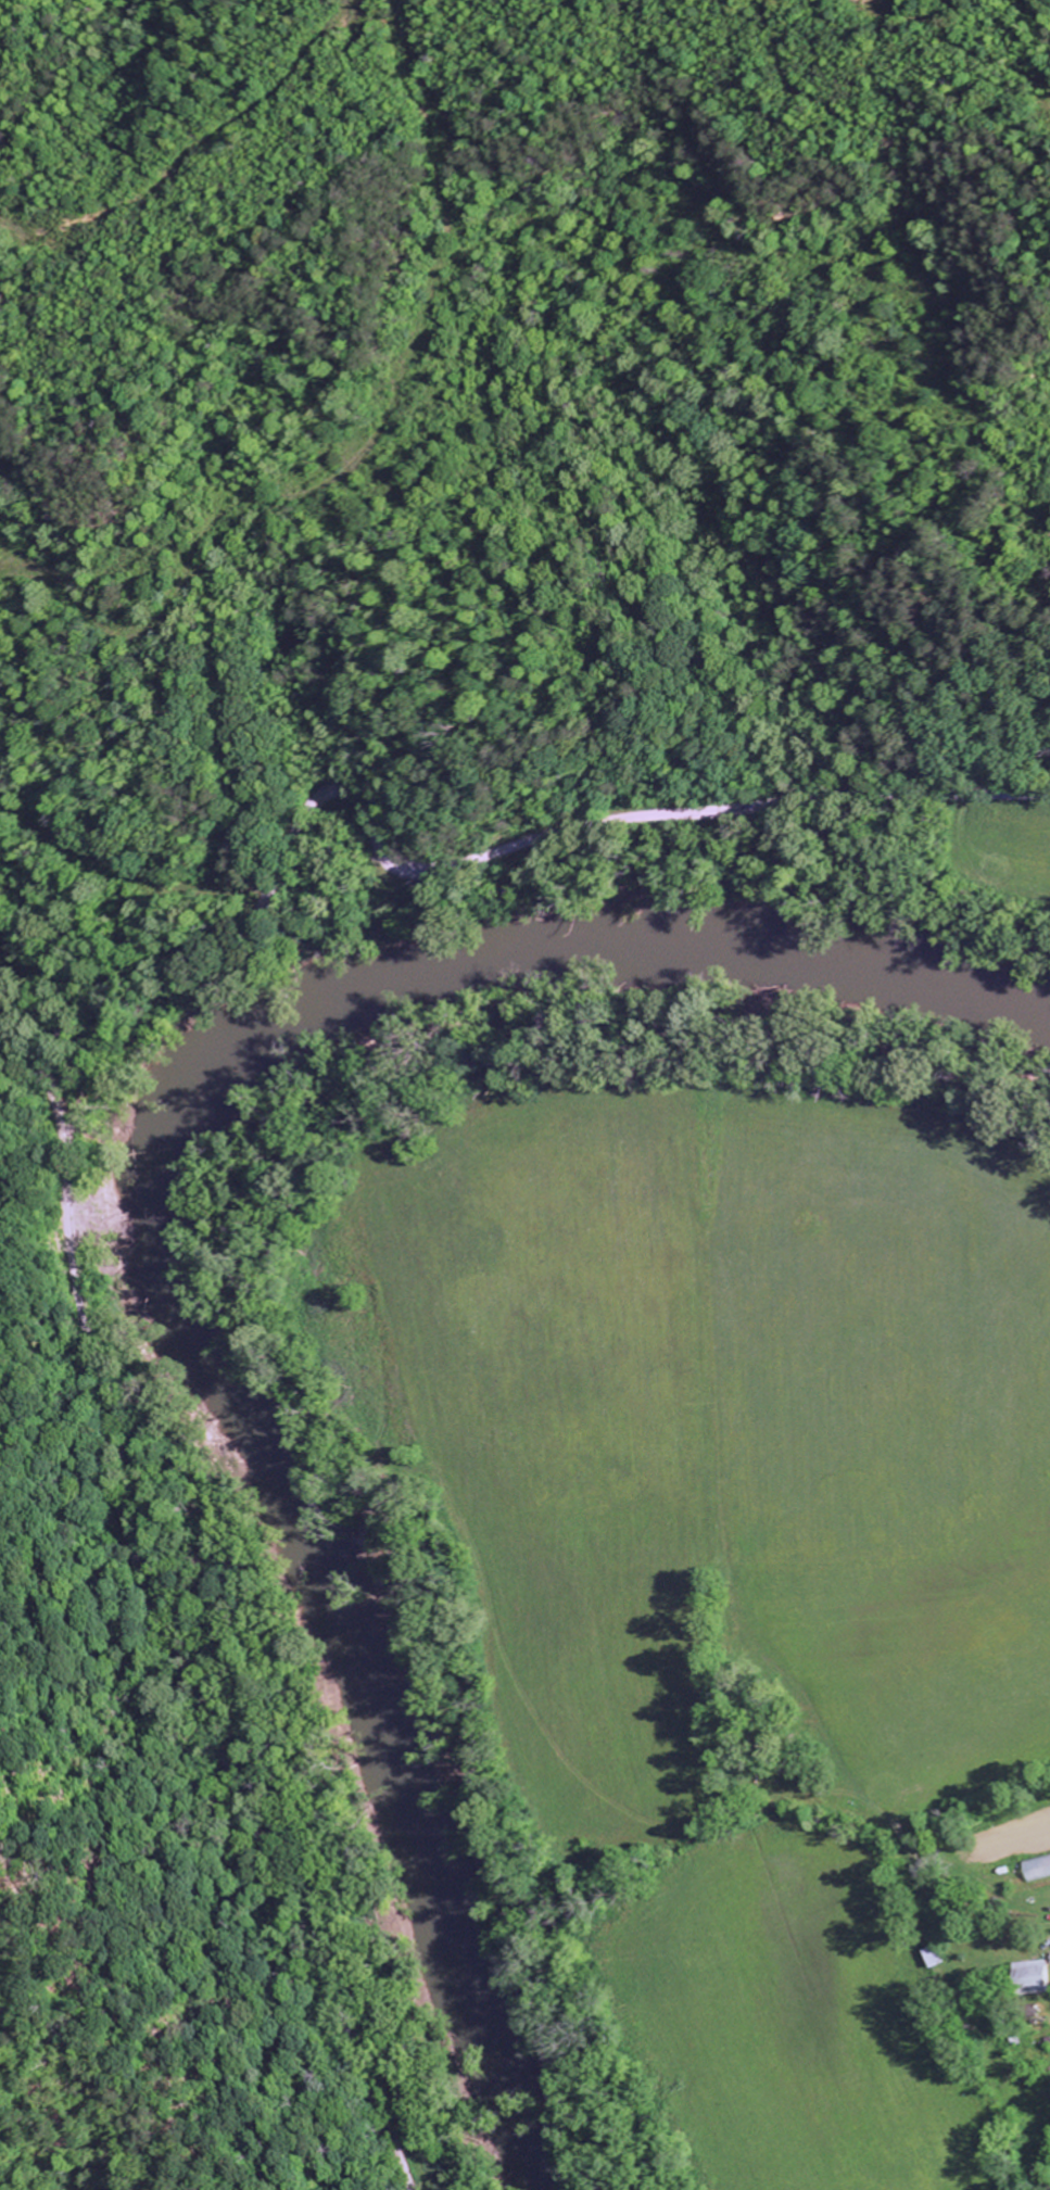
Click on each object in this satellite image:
road: (39, 1068)
river: (177, 1221)
building: (1038, 1868)
building: (1037, 1977)

